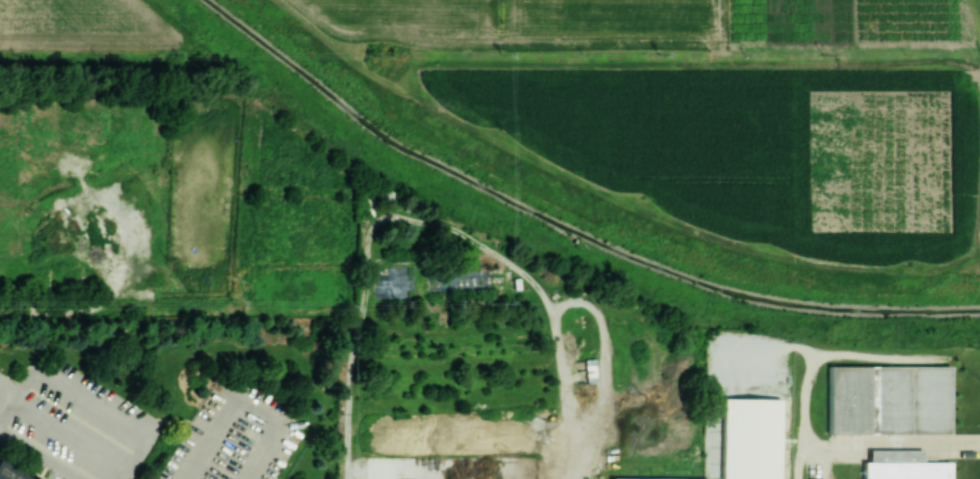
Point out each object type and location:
crop: (642, 24)
crop: (77, 26)
crop: (95, 107)
crop: (754, 153)
crop: (9, 168)
crop: (201, 188)
river: (568, 226)
road: (90, 396)
building: (887, 399)
road: (243, 403)
road: (62, 432)
building: (749, 438)
road: (893, 452)
road: (37, 457)
building: (901, 466)
building: (11, 472)
building: (34, 478)
building: (648, 478)

